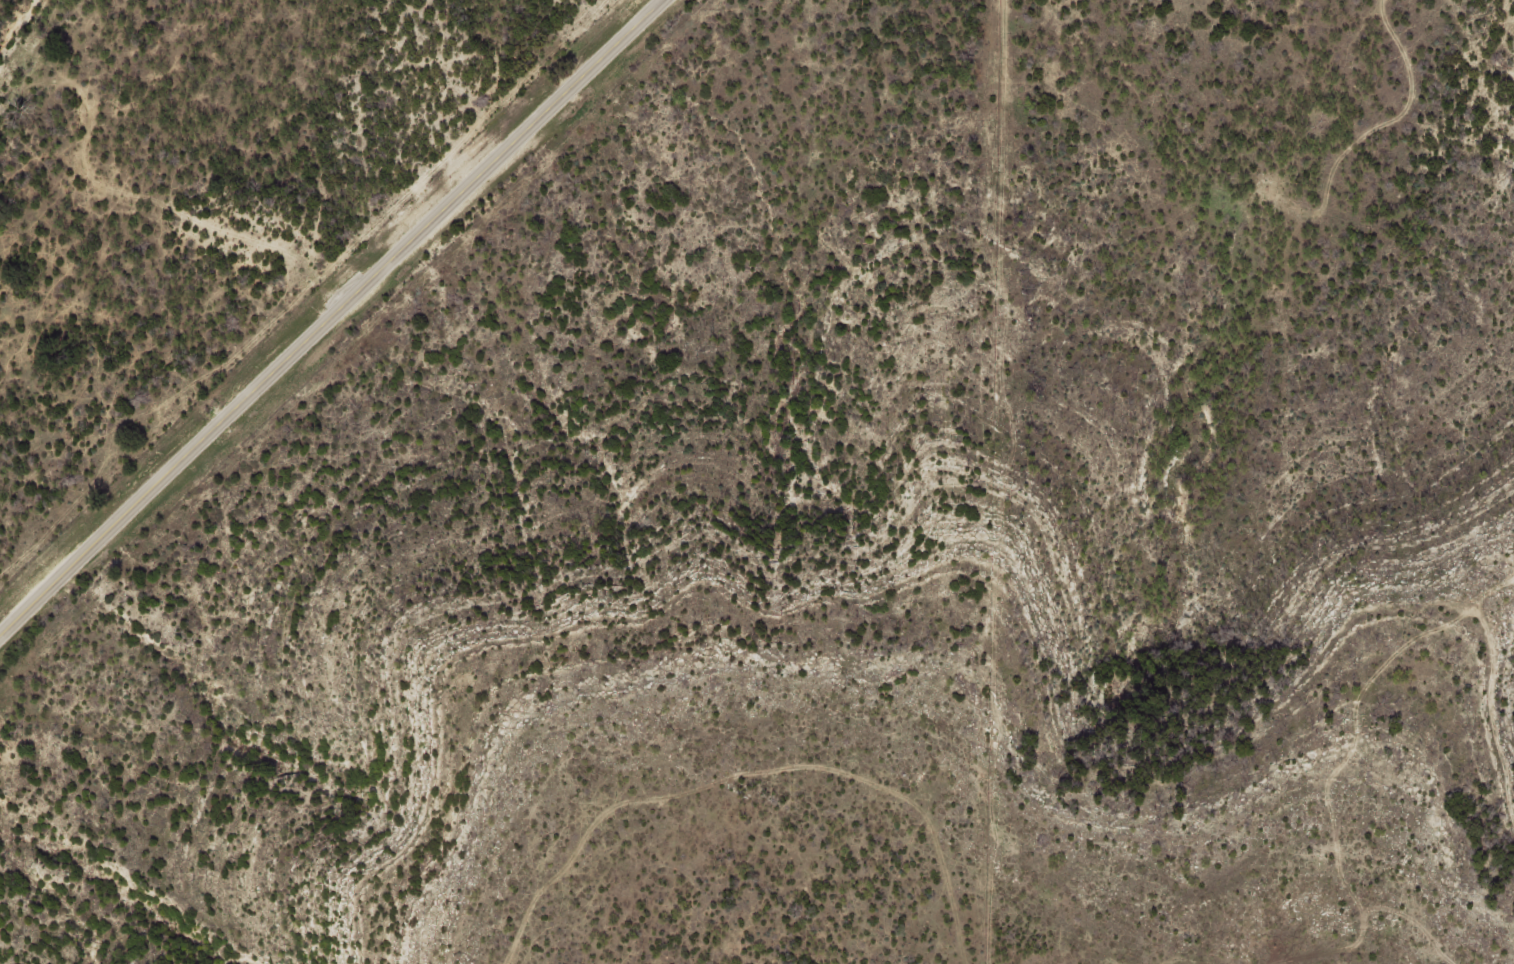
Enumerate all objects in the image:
road: (331, 315)

